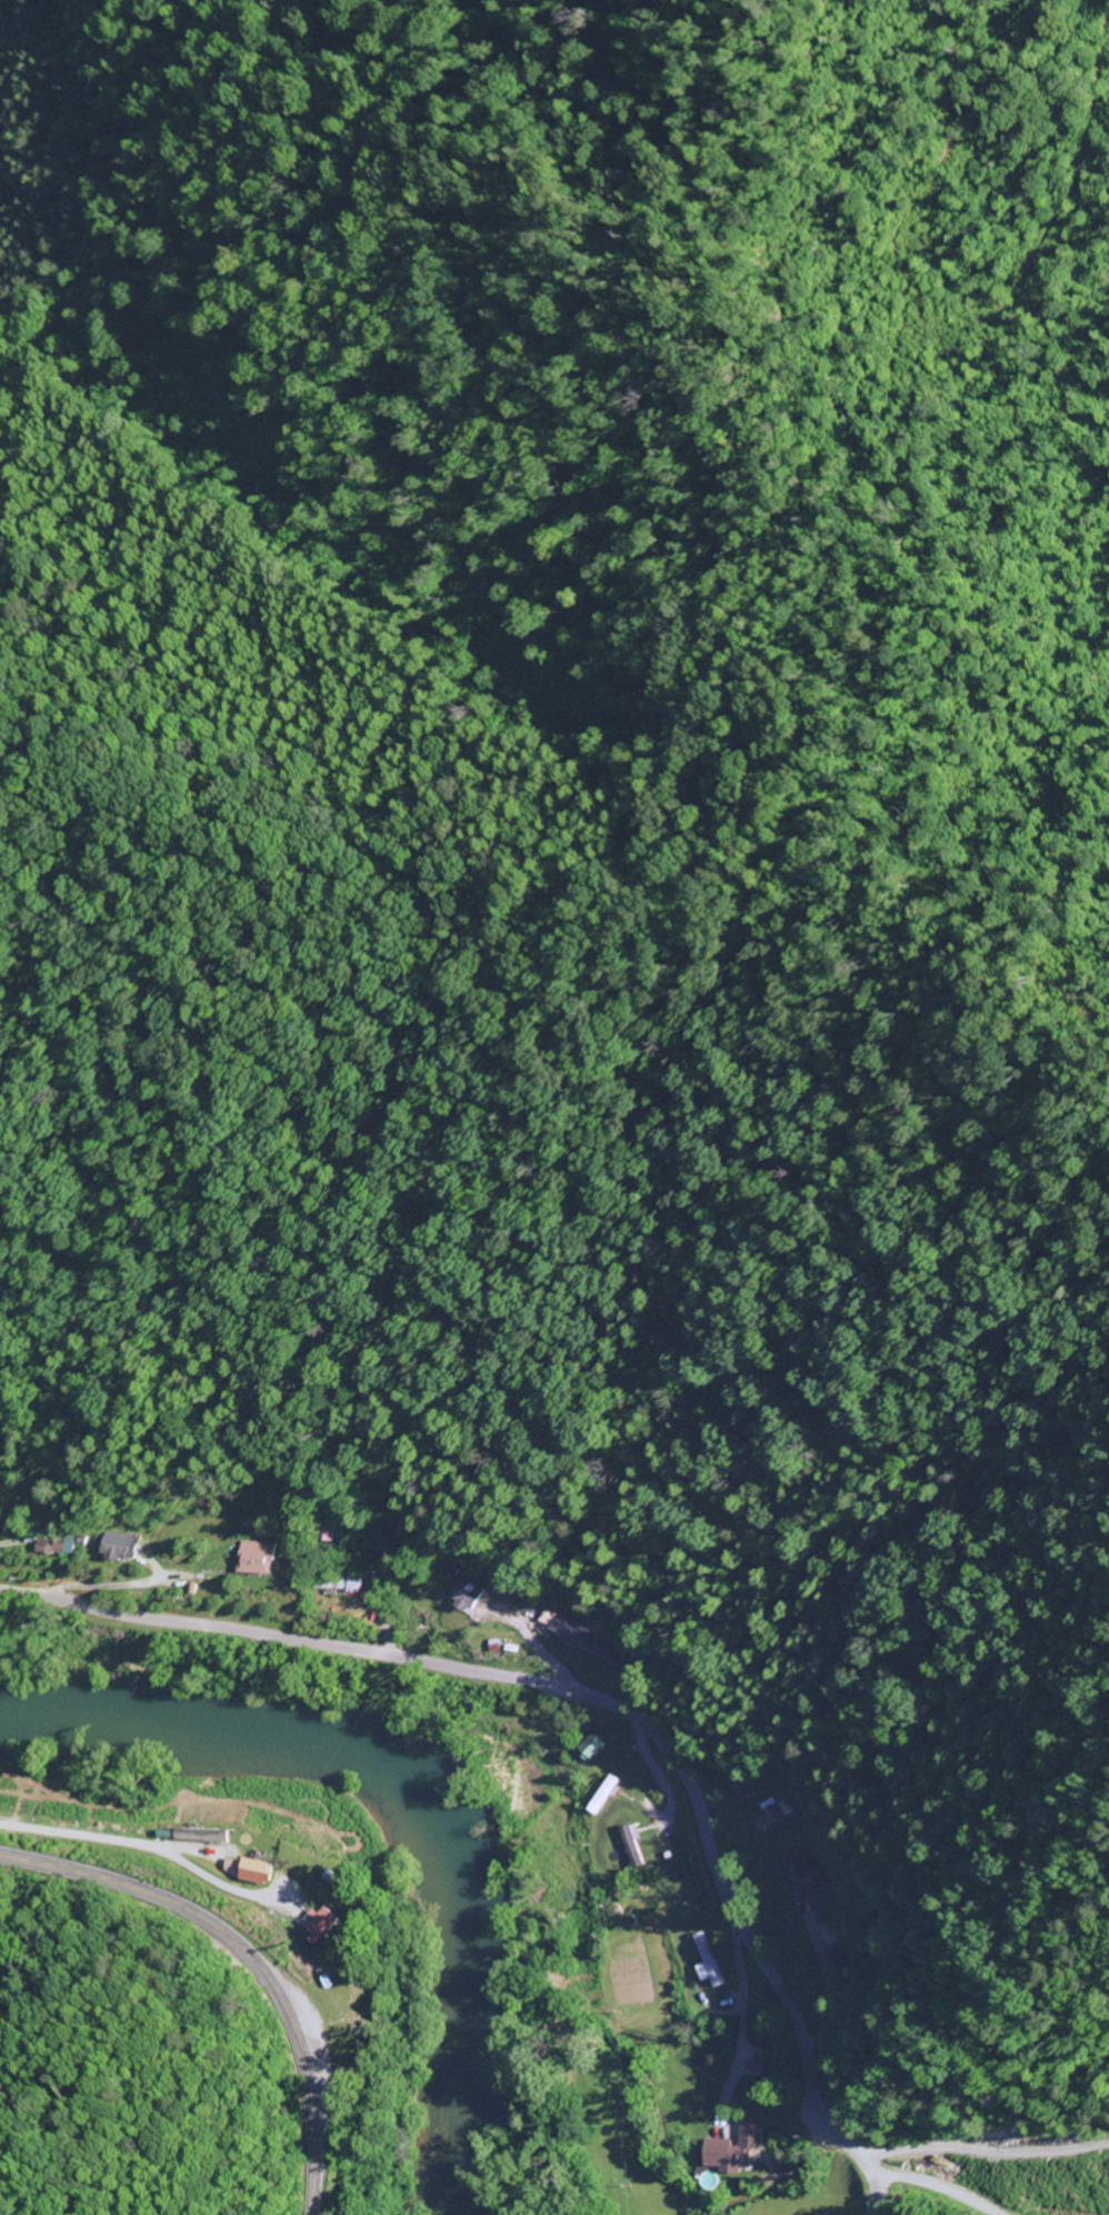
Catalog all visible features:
building: (50, 1547)
building: (112, 1547)
building: (250, 1559)
building: (337, 1585)
building: (459, 1596)
building: (571, 1638)
building: (608, 1661)
road: (593, 1697)
building: (585, 1748)
river: (414, 1789)
building: (198, 1836)
building: (626, 1847)
building: (228, 1867)
building: (251, 1873)
building: (805, 1887)
road: (222, 1891)
building: (316, 1925)
building: (835, 1955)
road: (248, 1957)
building: (702, 1963)
road: (740, 1984)
road: (978, 2151)
building: (728, 2152)
road: (931, 2185)

